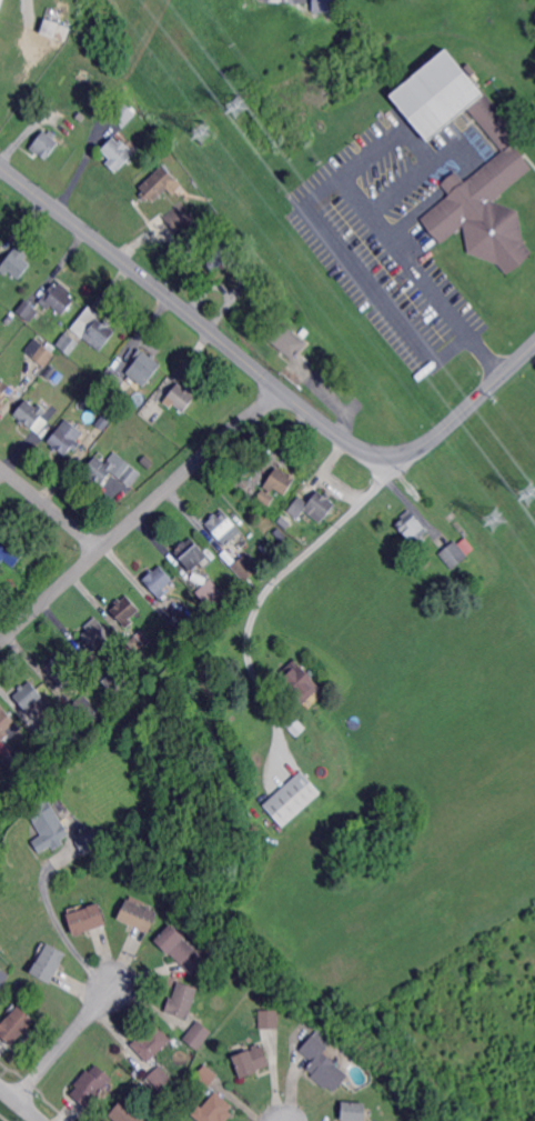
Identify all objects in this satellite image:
building: (0, 0)
building: (324, 6)
building: (48, 26)
power tower: (239, 106)
building: (123, 114)
power tower: (203, 133)
building: (46, 143)
building: (117, 152)
building: (508, 162)
building: (159, 182)
building: (179, 219)
parking lot: (394, 231)
road: (403, 250)
building: (218, 256)
building: (16, 266)
road: (360, 271)
building: (255, 276)
building: (59, 299)
building: (29, 311)
building: (9, 319)
building: (16, 323)
building: (100, 334)
building: (315, 337)
building: (286, 340)
building: (69, 343)
building: (41, 351)
building: (144, 367)
building: (98, 370)
building: (50, 371)
road: (264, 374)
building: (113, 380)
building: (3, 390)
building: (181, 397)
building: (153, 411)
building: (31, 413)
building: (102, 423)
building: (67, 437)
building: (113, 470)
building: (276, 486)
power tower: (532, 491)
building: (314, 504)
road: (50, 507)
road: (140, 514)
power tower: (497, 519)
building: (223, 529)
building: (414, 529)
building: (456, 552)
building: (12, 553)
building: (191, 553)
building: (246, 568)
building: (159, 581)
road: (270, 584)
building: (244, 592)
building: (212, 593)
building: (125, 610)
building: (181, 622)
building: (97, 635)
building: (138, 644)
building: (181, 649)
building: (63, 669)
building: (115, 682)
building: (300, 682)
building: (32, 698)
building: (85, 709)
building: (8, 724)
building: (297, 727)
building: (48, 732)
building: (16, 760)
building: (293, 800)
building: (47, 827)
building: (90, 841)
building: (139, 915)
building: (88, 918)
road: (61, 930)
building: (181, 948)
building: (50, 962)
building: (3, 978)
building: (203, 983)
building: (182, 1000)
building: (269, 1018)
building: (17, 1024)
building: (198, 1034)
building: (151, 1042)
road: (60, 1043)
building: (251, 1062)
building: (323, 1064)
building: (208, 1075)
building: (160, 1077)
building: (137, 1084)
building: (92, 1085)
road: (21, 1102)
building: (378, 1102)
building: (214, 1109)
building: (354, 1111)
building: (125, 1113)

